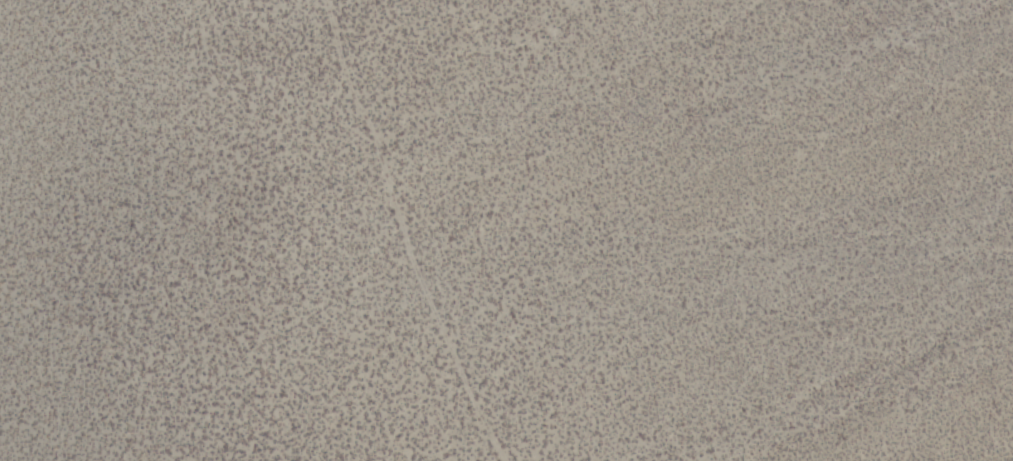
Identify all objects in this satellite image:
road: (408, 234)

